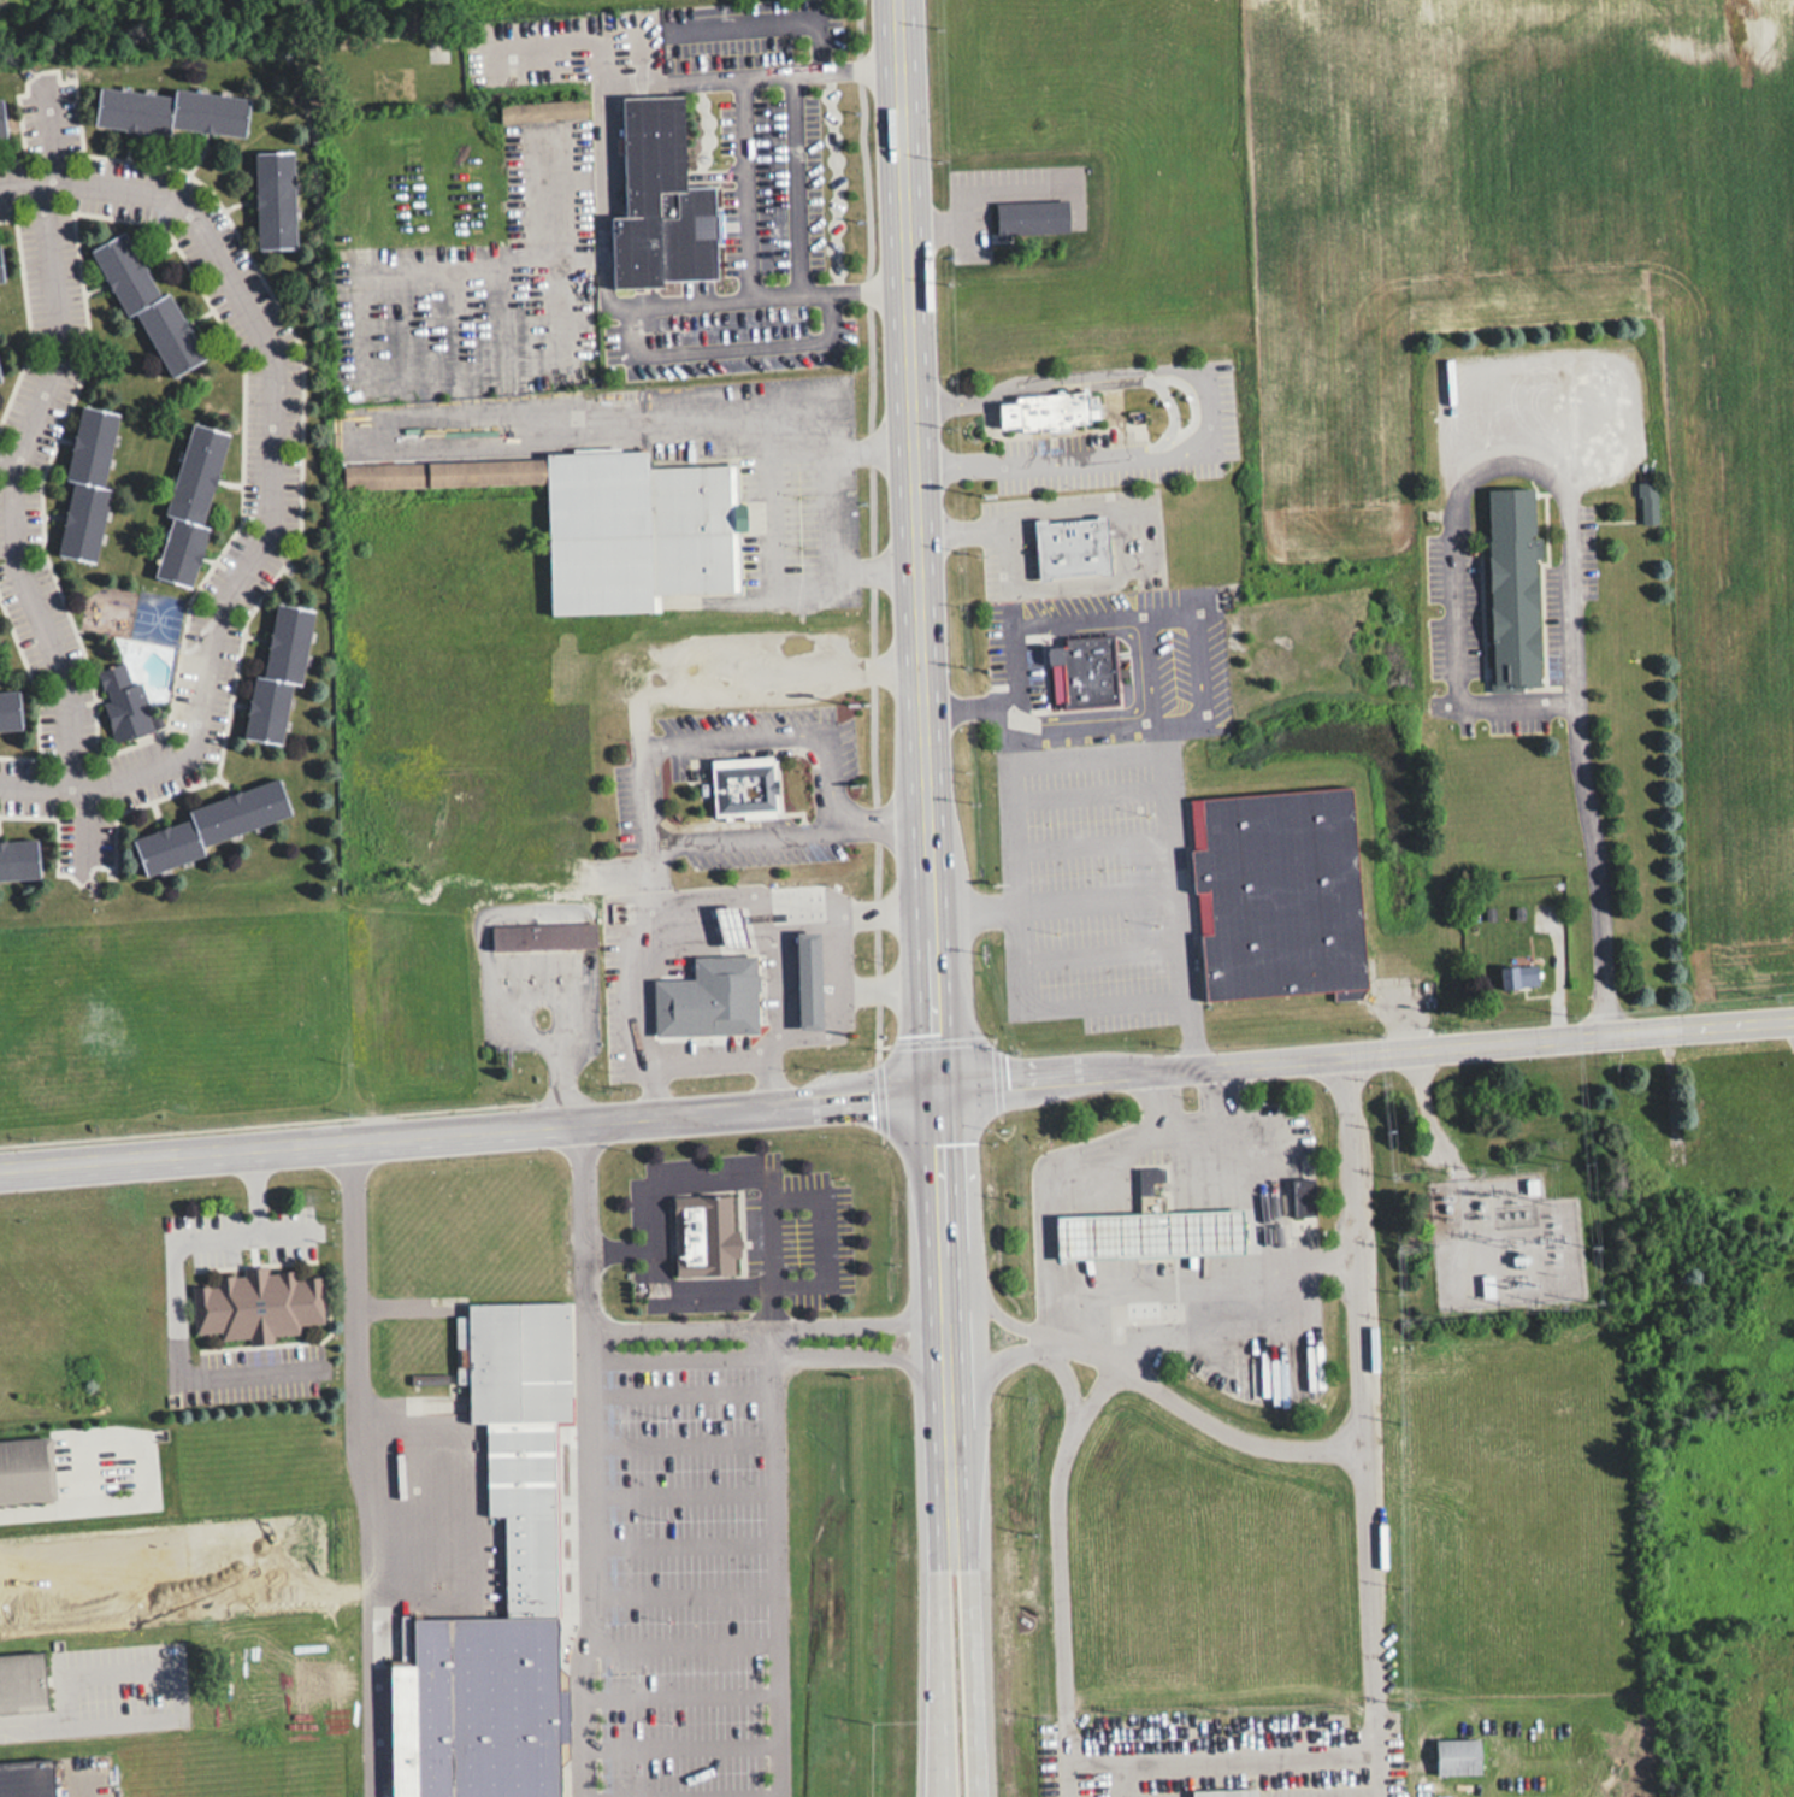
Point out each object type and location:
building: (173, 108)
building: (542, 110)
building: (1, 120)
road: (793, 183)
building: (275, 198)
building: (675, 210)
building: (1035, 217)
building: (0, 270)
building: (147, 302)
road: (1217, 406)
building: (1064, 412)
road: (6, 461)
road: (272, 476)
road: (14, 478)
building: (87, 481)
building: (1646, 501)
building: (189, 503)
road: (824, 511)
building: (612, 522)
road: (1569, 536)
road: (921, 544)
building: (1084, 548)
road: (1099, 583)
building: (1524, 588)
road: (1108, 619)
building: (278, 672)
building: (1097, 673)
building: (123, 701)
building: (10, 709)
road: (659, 785)
building: (755, 786)
road: (1094, 791)
building: (211, 824)
road: (1097, 844)
building: (18, 859)
building: (1288, 892)
road: (1100, 905)
road: (978, 908)
building: (744, 927)
building: (553, 936)
road: (1103, 953)
road: (642, 974)
building: (1518, 974)
building: (809, 978)
building: (712, 997)
road: (1185, 1000)
road: (1198, 1036)
road: (1365, 1059)
road: (771, 1080)
road: (653, 1089)
traffic signals: (938, 1090)
road: (1224, 1095)
road: (1172, 1100)
road: (1257, 1117)
road: (1421, 1123)
road: (468, 1132)
building: (1311, 1194)
building: (1151, 1207)
road: (1467, 1230)
building: (1150, 1231)
building: (714, 1233)
road: (777, 1241)
power substation: (1500, 1241)
road: (630, 1247)
road: (833, 1285)
road: (175, 1291)
building: (266, 1304)
road: (773, 1326)
road: (1032, 1350)
road: (774, 1357)
building: (529, 1361)
road: (1147, 1379)
road: (689, 1390)
road: (1369, 1428)
road: (690, 1437)
road: (950, 1443)
road: (601, 1461)
road: (360, 1469)
building: (26, 1471)
road: (691, 1493)
road: (470, 1506)
building: (538, 1514)
road: (692, 1540)
road: (781, 1542)
road: (1064, 1571)
road: (694, 1593)
road: (687, 1642)
road: (172, 1667)
building: (26, 1684)
road: (685, 1696)
building: (490, 1709)
road: (31, 1725)
road: (686, 1746)
building: (1462, 1751)
road: (1226, 1752)
road: (1127, 1775)
building: (26, 1778)
road: (78, 1785)
building: (1232, 1792)
road: (687, 1793)

